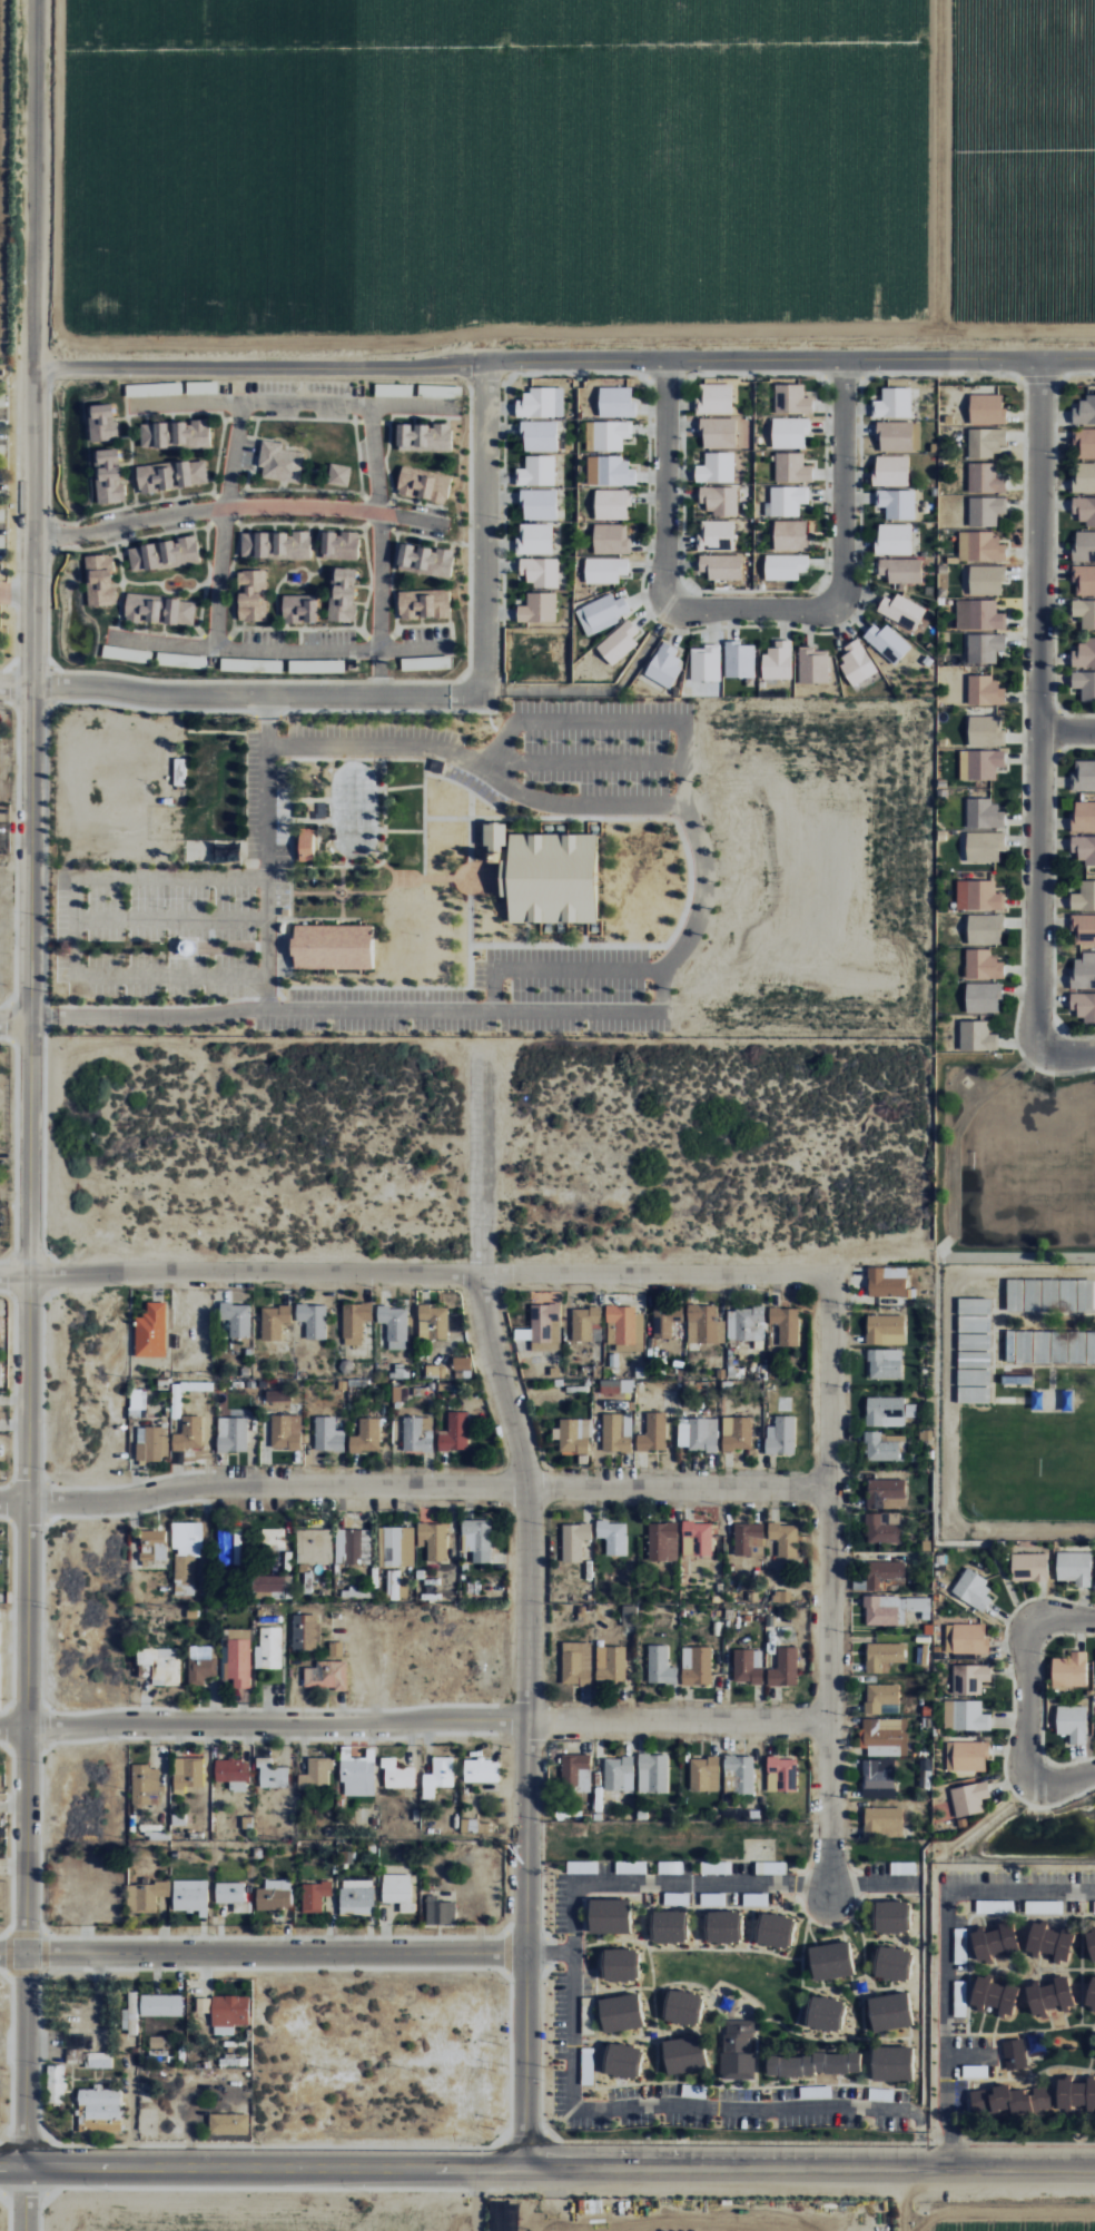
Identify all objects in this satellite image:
road: (34, 176)
road: (563, 358)
building: (393, 389)
building: (441, 391)
building: (2, 399)
building: (712, 399)
building: (791, 399)
building: (615, 402)
building: (535, 403)
building: (892, 403)
road: (290, 404)
building: (987, 408)
building: (1084, 411)
building: (101, 423)
building: (1, 426)
building: (175, 433)
building: (718, 433)
building: (789, 433)
building: (611, 434)
building: (424, 435)
building: (898, 435)
building: (539, 436)
building: (589, 436)
building: (986, 442)
building: (1084, 443)
building: (279, 462)
building: (716, 467)
building: (791, 467)
building: (891, 470)
building: (536, 471)
building: (609, 471)
building: (338, 474)
building: (170, 475)
building: (108, 476)
building: (1084, 476)
building: (985, 478)
road: (664, 481)
road: (840, 481)
building: (423, 484)
building: (719, 500)
building: (786, 500)
building: (896, 503)
building: (539, 504)
building: (612, 504)
road: (236, 506)
building: (1084, 510)
building: (985, 511)
building: (1, 515)
road: (224, 524)
road: (484, 525)
road: (378, 527)
building: (716, 534)
building: (790, 535)
building: (534, 539)
building: (611, 539)
building: (894, 539)
building: (254, 544)
building: (339, 544)
building: (1084, 545)
building: (980, 546)
building: (164, 553)
building: (425, 559)
building: (721, 566)
building: (785, 566)
building: (604, 570)
building: (900, 570)
building: (540, 571)
building: (99, 580)
building: (986, 580)
building: (1084, 580)
building: (343, 594)
building: (253, 595)
building: (423, 603)
road: (752, 603)
building: (537, 608)
building: (159, 609)
building: (299, 609)
building: (901, 610)
building: (1084, 612)
building: (601, 613)
building: (979, 614)
building: (618, 642)
building: (887, 642)
building: (984, 648)
road: (275, 650)
building: (120, 653)
building: (1084, 653)
building: (739, 659)
building: (181, 660)
building: (777, 660)
building: (704, 662)
building: (856, 662)
building: (425, 663)
building: (244, 664)
building: (664, 664)
building: (324, 665)
building: (812, 665)
building: (1084, 683)
road: (16, 684)
building: (985, 691)
road: (257, 694)
road: (267, 707)
road: (614, 721)
road: (1065, 729)
building: (986, 731)
road: (1035, 733)
road: (583, 762)
building: (980, 763)
building: (179, 771)
building: (1083, 774)
building: (984, 813)
building: (1083, 816)
building: (494, 836)
building: (984, 846)
building: (1084, 849)
building: (227, 851)
building: (302, 852)
road: (266, 877)
building: (550, 878)
fountain: (341, 892)
building: (978, 895)
building: (1084, 897)
building: (985, 928)
building: (1083, 929)
building: (182, 945)
building: (332, 946)
building: (984, 965)
road: (556, 970)
building: (1084, 971)
road: (661, 975)
building: (983, 997)
parking lot: (492, 998)
building: (1084, 1006)
road: (41, 1016)
road: (14, 1025)
building: (977, 1036)
road: (481, 1155)
road: (31, 1260)
road: (655, 1275)
road: (239, 1276)
building: (887, 1282)
building: (1014, 1295)
building: (1033, 1295)
building: (1067, 1295)
building: (974, 1306)
building: (237, 1319)
building: (312, 1320)
building: (274, 1322)
building: (354, 1322)
building: (433, 1322)
building: (586, 1324)
building: (704, 1324)
building: (974, 1324)
building: (1, 1325)
building: (394, 1325)
building: (786, 1325)
building: (545, 1327)
building: (623, 1329)
building: (886, 1330)
building: (151, 1331)
building: (974, 1342)
building: (1010, 1345)
building: (1059, 1346)
building: (1082, 1346)
building: (1024, 1348)
building: (1042, 1348)
building: (974, 1360)
building: (885, 1363)
building: (461, 1365)
building: (435, 1371)
building: (0, 1373)
building: (974, 1378)
building: (1017, 1380)
building: (615, 1386)
building: (278, 1395)
building: (974, 1395)
building: (137, 1403)
building: (888, 1411)
building: (285, 1431)
building: (455, 1432)
building: (189, 1433)
building: (616, 1433)
building: (653, 1433)
building: (737, 1433)
building: (231, 1434)
building: (328, 1434)
building: (417, 1434)
building: (697, 1434)
building: (366, 1437)
building: (574, 1437)
building: (781, 1437)
building: (152, 1443)
building: (884, 1447)
road: (414, 1490)
building: (886, 1493)
building: (882, 1527)
building: (612, 1536)
building: (697, 1538)
building: (749, 1538)
building: (783, 1538)
building: (273, 1539)
building: (433, 1540)
building: (574, 1540)
building: (662, 1540)
building: (152, 1546)
building: (313, 1546)
building: (352, 1546)
building: (398, 1546)
building: (225, 1548)
building: (185, 1556)
building: (1029, 1567)
building: (1074, 1567)
building: (885, 1574)
building: (273, 1585)
building: (398, 1585)
road: (827, 1588)
building: (973, 1589)
building: (782, 1596)
building: (894, 1609)
building: (629, 1615)
building: (305, 1631)
building: (969, 1638)
building: (268, 1648)
building: (336, 1648)
building: (884, 1655)
building: (239, 1657)
building: (921, 1657)
building: (162, 1662)
building: (576, 1662)
building: (201, 1664)
building: (611, 1664)
building: (660, 1665)
building: (696, 1665)
building: (748, 1665)
road: (383, 1666)
building: (783, 1667)
building: (1069, 1669)
building: (326, 1675)
building: (969, 1678)
building: (882, 1698)
road: (1025, 1704)
building: (965, 1715)
road: (412, 1719)
road: (527, 1719)
building: (1072, 1722)
building: (881, 1736)
building: (967, 1755)
building: (481, 1770)
building: (740, 1771)
building: (187, 1773)
building: (233, 1773)
building: (575, 1773)
building: (619, 1773)
building: (653, 1773)
building: (878, 1773)
building: (272, 1774)
building: (316, 1774)
building: (358, 1774)
building: (397, 1774)
building: (704, 1774)
building: (781, 1774)
building: (438, 1776)
building: (145, 1786)
building: (969, 1798)
building: (882, 1822)
building: (477, 1826)
building: (582, 1867)
building: (631, 1867)
building: (670, 1867)
building: (716, 1867)
building: (771, 1867)
building: (902, 1867)
building: (397, 1891)
building: (229, 1892)
building: (146, 1895)
building: (274, 1895)
building: (315, 1895)
building: (190, 1896)
building: (357, 1896)
building: (677, 1898)
building: (712, 1898)
building: (754, 1898)
building: (1043, 1906)
building: (1094, 1906)
building: (438, 1911)
building: (609, 1915)
building: (891, 1915)
building: (669, 1925)
building: (722, 1926)
building: (775, 1929)
building: (994, 1939)
building: (1048, 1942)
building: (1091, 1943)
building: (960, 1945)
road: (944, 1953)
road: (262, 1955)
building: (830, 1959)
building: (892, 1963)
building: (620, 1964)
building: (1091, 1993)
building: (993, 1994)
building: (1049, 1995)
building: (160, 2004)
building: (203, 2004)
building: (960, 2005)
building: (682, 2006)
building: (890, 2011)
building: (129, 2012)
building: (620, 2012)
building: (228, 2013)
building: (825, 2013)
road: (571, 2021)
building: (738, 2049)
building: (1014, 2049)
building: (684, 2054)
building: (99, 2060)
building: (621, 2060)
building: (892, 2063)
building: (811, 2064)
building: (975, 2071)
building: (55, 2083)
building: (693, 2091)
building: (815, 2091)
building: (619, 2092)
building: (880, 2094)
building: (1075, 2094)
building: (1042, 2095)
building: (999, 2101)
building: (100, 2102)
building: (228, 2123)
road: (10, 2133)
road: (45, 2133)
road: (27, 2141)
road: (3, 2142)
road: (55, 2143)
road: (13, 2162)
road: (7, 2168)
road: (47, 2168)
road: (810, 2168)
road: (276, 2169)
road: (13, 2170)
road: (3, 2192)
road: (55, 2192)
road: (27, 2194)
road: (26, 2198)
road: (901, 2199)
road: (476, 2201)
road: (555, 2201)
road: (9, 2212)
road: (41, 2212)
crop: (1004, 2214)
road: (1003, 2218)

